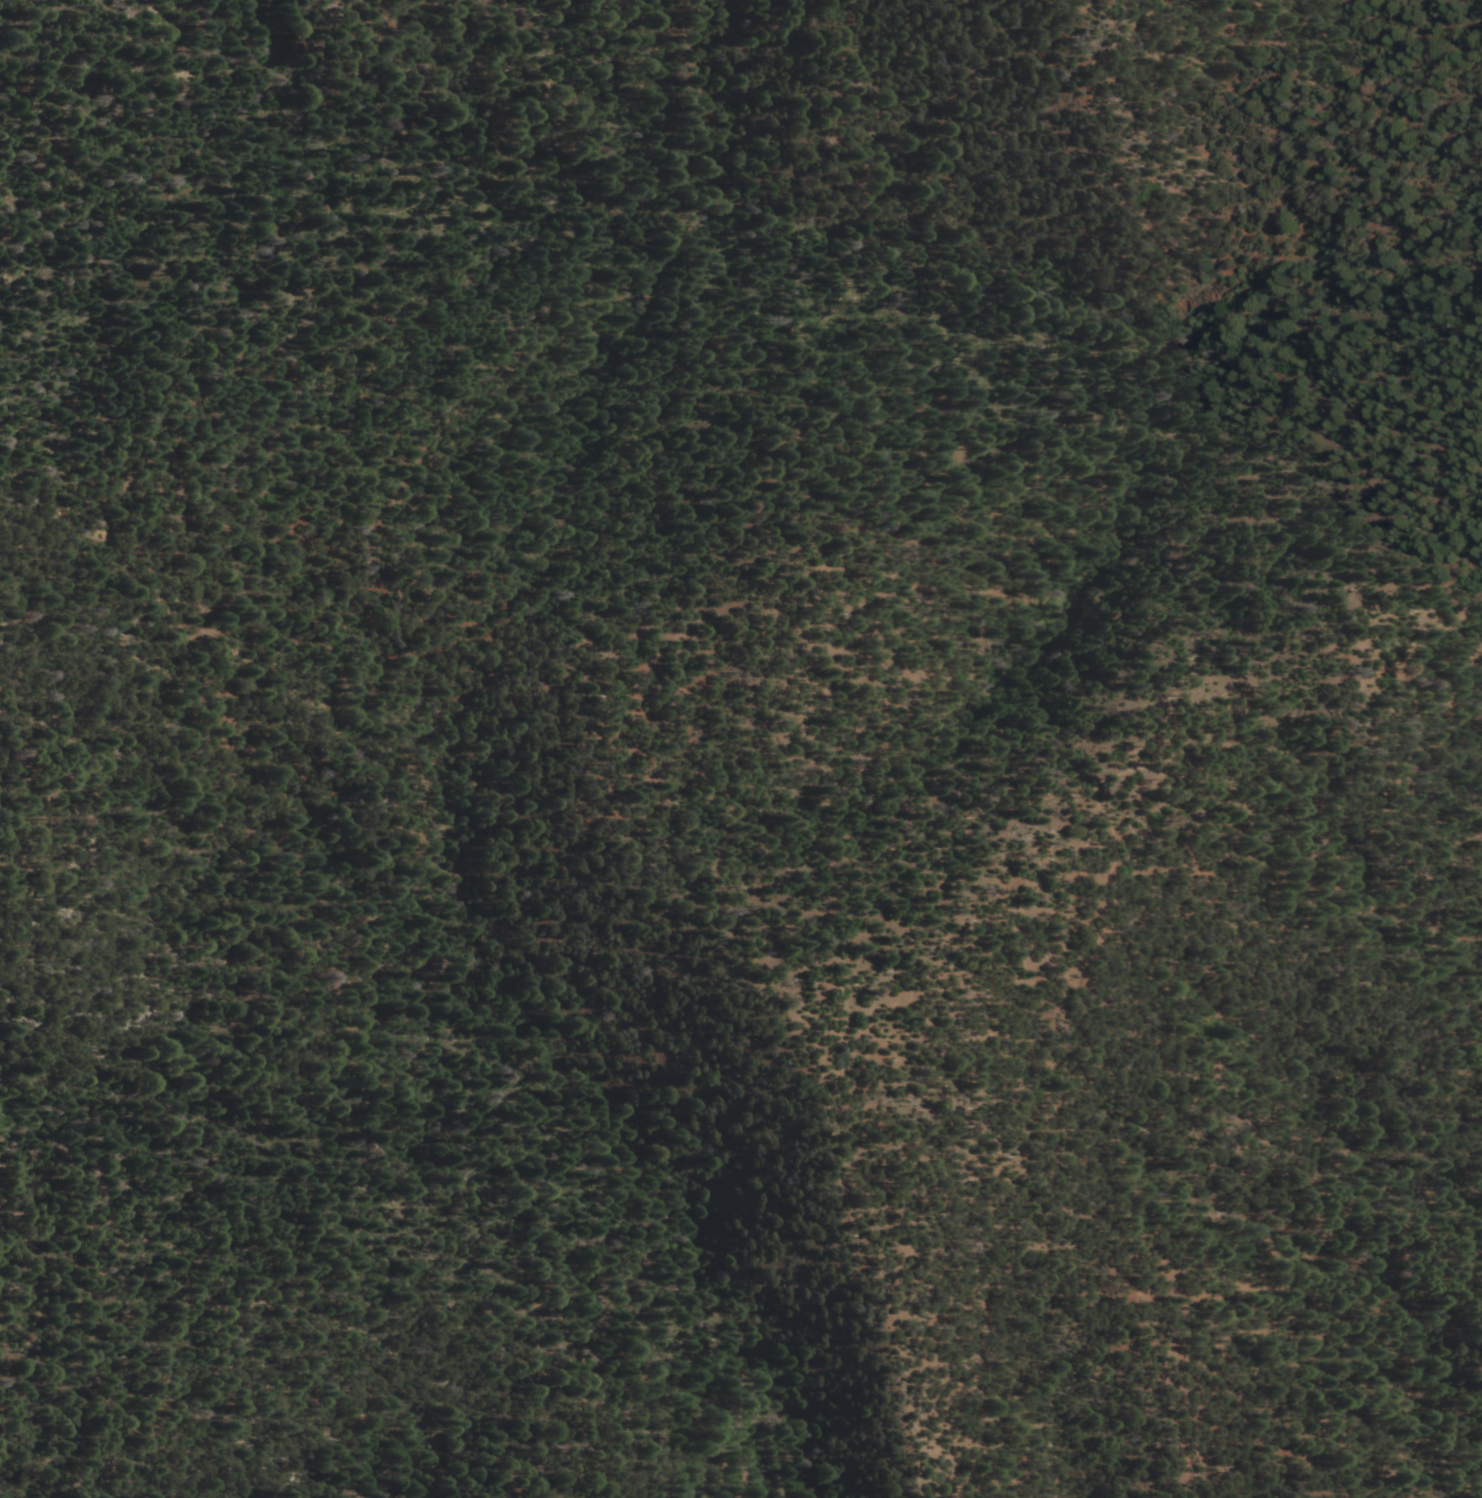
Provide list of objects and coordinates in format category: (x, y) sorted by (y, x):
road: (374, 707)
road: (1108, 775)
road: (993, 1284)
road: (710, 1288)
road: (299, 1303)
road: (428, 1440)

